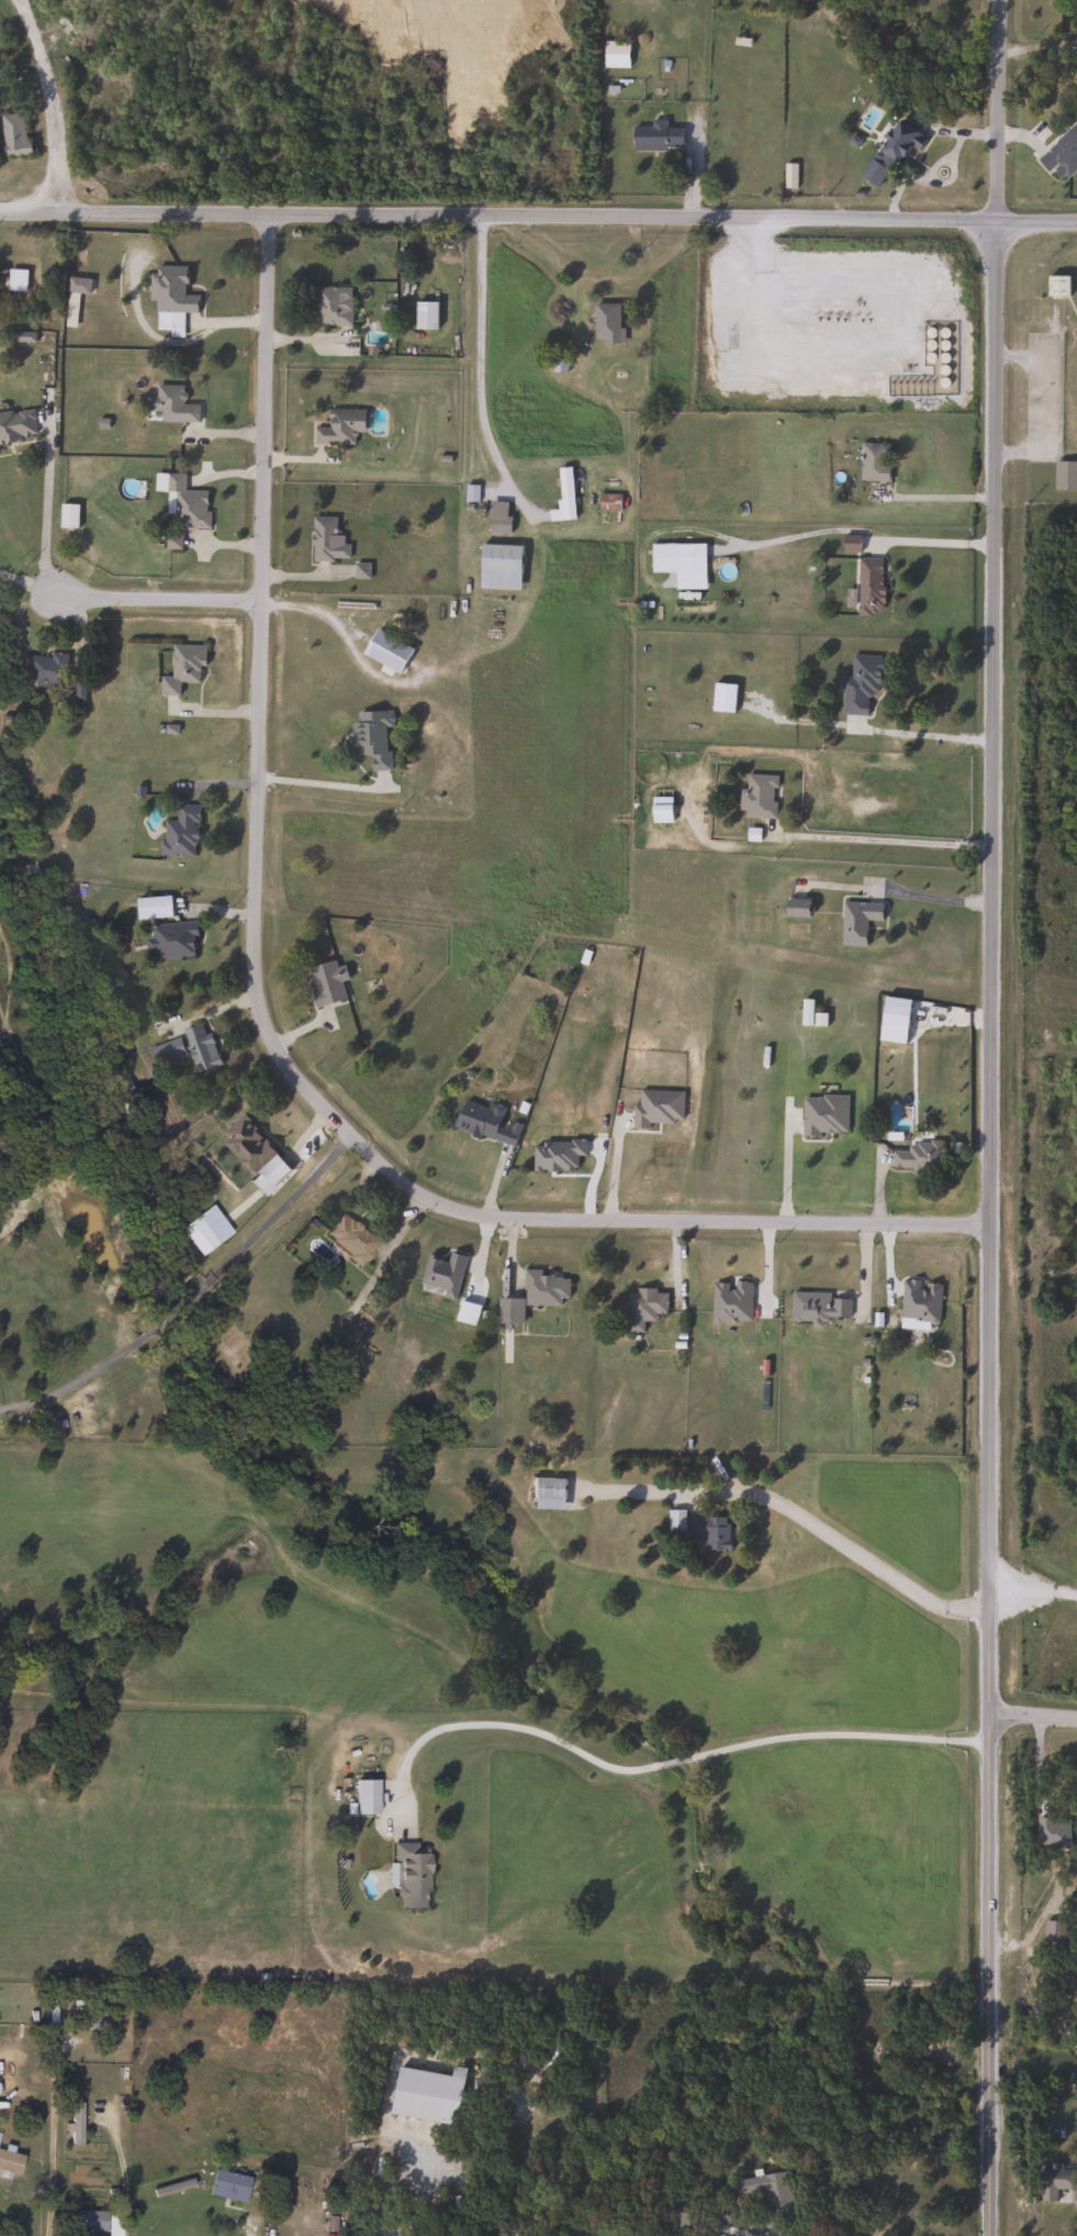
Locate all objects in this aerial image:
building: (615, 55)
road: (51, 101)
road: (1001, 109)
building: (12, 135)
building: (655, 136)
building: (890, 151)
building: (1062, 155)
road: (935, 163)
building: (788, 176)
road: (500, 210)
road: (1039, 220)
building: (1056, 287)
building: (74, 297)
building: (169, 298)
building: (333, 305)
building: (425, 315)
building: (606, 324)
road: (475, 365)
building: (1076, 388)
building: (172, 405)
building: (16, 425)
building: (339, 427)
building: (874, 461)
building: (1065, 476)
building: (562, 497)
building: (608, 503)
building: (184, 504)
road: (45, 508)
building: (497, 518)
road: (931, 533)
building: (326, 541)
building: (850, 544)
building: (670, 559)
building: (498, 567)
building: (870, 585)
road: (159, 600)
building: (385, 650)
building: (181, 669)
building: (43, 671)
building: (859, 683)
building: (371, 736)
road: (324, 781)
building: (758, 796)
building: (660, 809)
building: (180, 832)
road: (886, 838)
road: (930, 895)
building: (795, 904)
building: (856, 920)
building: (171, 938)
building: (326, 980)
road: (265, 1021)
building: (183, 1050)
building: (655, 1106)
building: (823, 1114)
building: (476, 1116)
building: (244, 1144)
building: (913, 1156)
road: (614, 1169)
road: (786, 1171)
road: (992, 1227)
building: (199, 1234)
building: (349, 1237)
building: (441, 1272)
building: (545, 1287)
road: (191, 1292)
building: (819, 1304)
building: (642, 1305)
building: (508, 1310)
building: (545, 1492)
building: (674, 1520)
building: (710, 1531)
road: (848, 1548)
road: (1034, 1588)
road: (1034, 1718)
road: (670, 1761)
building: (363, 1796)
building: (1052, 1832)
building: (408, 1873)
building: (1052, 1936)
building: (88, 2012)
building: (551, 2051)
building: (425, 2094)
building: (74, 2123)
road: (52, 2137)
building: (9, 2162)
building: (1055, 2181)
road: (457, 2182)
building: (225, 2185)
building: (777, 2196)
road: (245, 2215)
building: (86, 2222)
building: (756, 2223)

